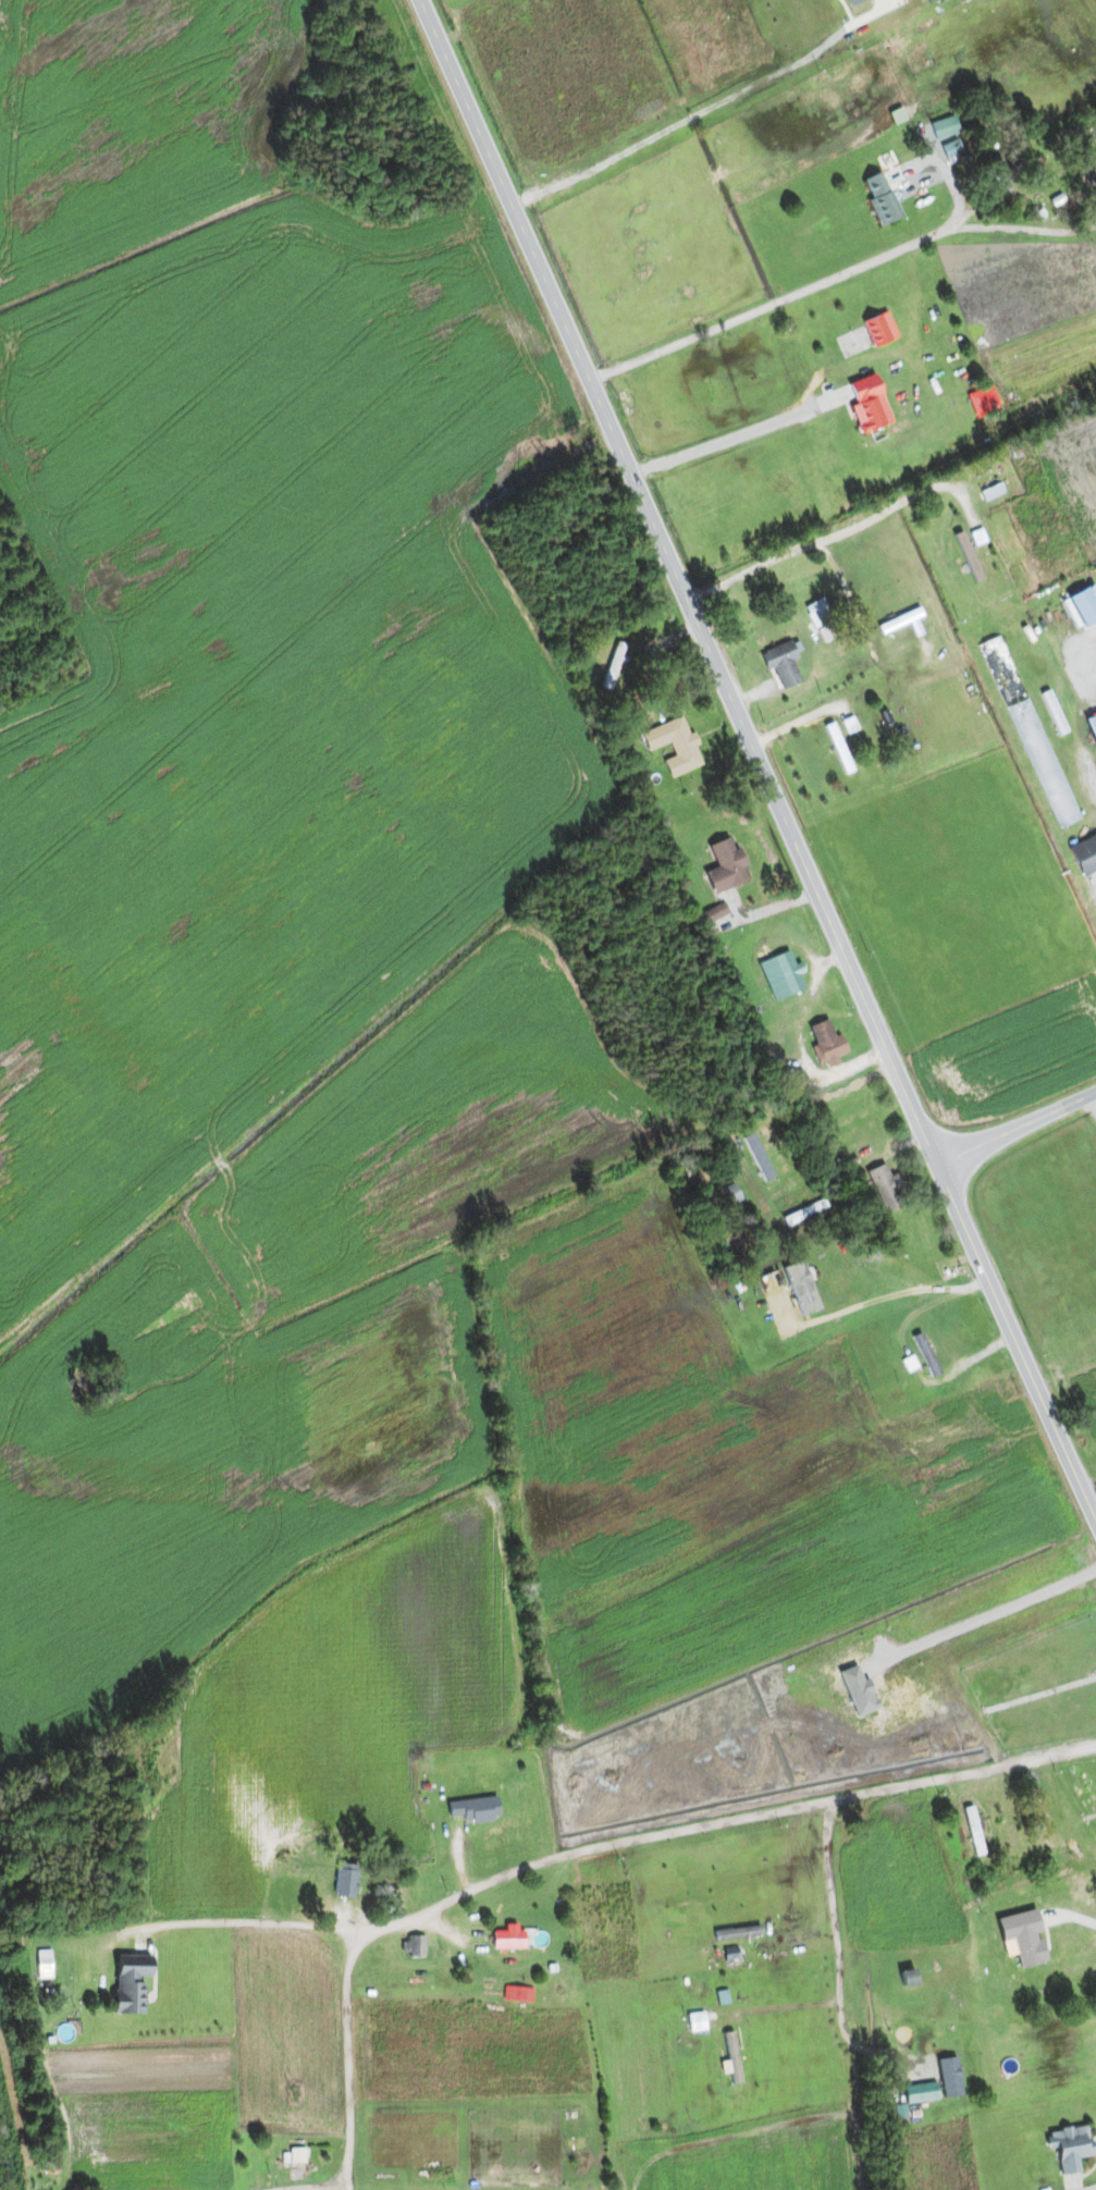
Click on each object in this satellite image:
building: (1001, 179)
building: (881, 197)
road: (781, 295)
building: (879, 329)
building: (870, 407)
building: (969, 557)
building: (822, 620)
building: (781, 663)
building: (614, 666)
building: (1054, 712)
building: (1027, 729)
building: (674, 745)
building: (838, 745)
road: (758, 761)
building: (1085, 854)
building: (726, 865)
building: (714, 913)
building: (789, 976)
building: (826, 1041)
road: (1015, 1129)
building: (760, 1158)
building: (886, 1189)
building: (727, 1195)
building: (804, 1213)
building: (801, 1288)
building: (149, 1743)
building: (470, 1812)
building: (969, 1824)
road: (568, 1854)
building: (345, 1881)
building: (1082, 1885)
building: (507, 1936)
building: (412, 1946)
building: (1029, 1947)
building: (558, 1974)
building: (912, 1979)
building: (130, 1983)
building: (732, 2056)
road: (346, 2058)
building: (929, 2066)
building: (1072, 2146)
road: (323, 2187)

